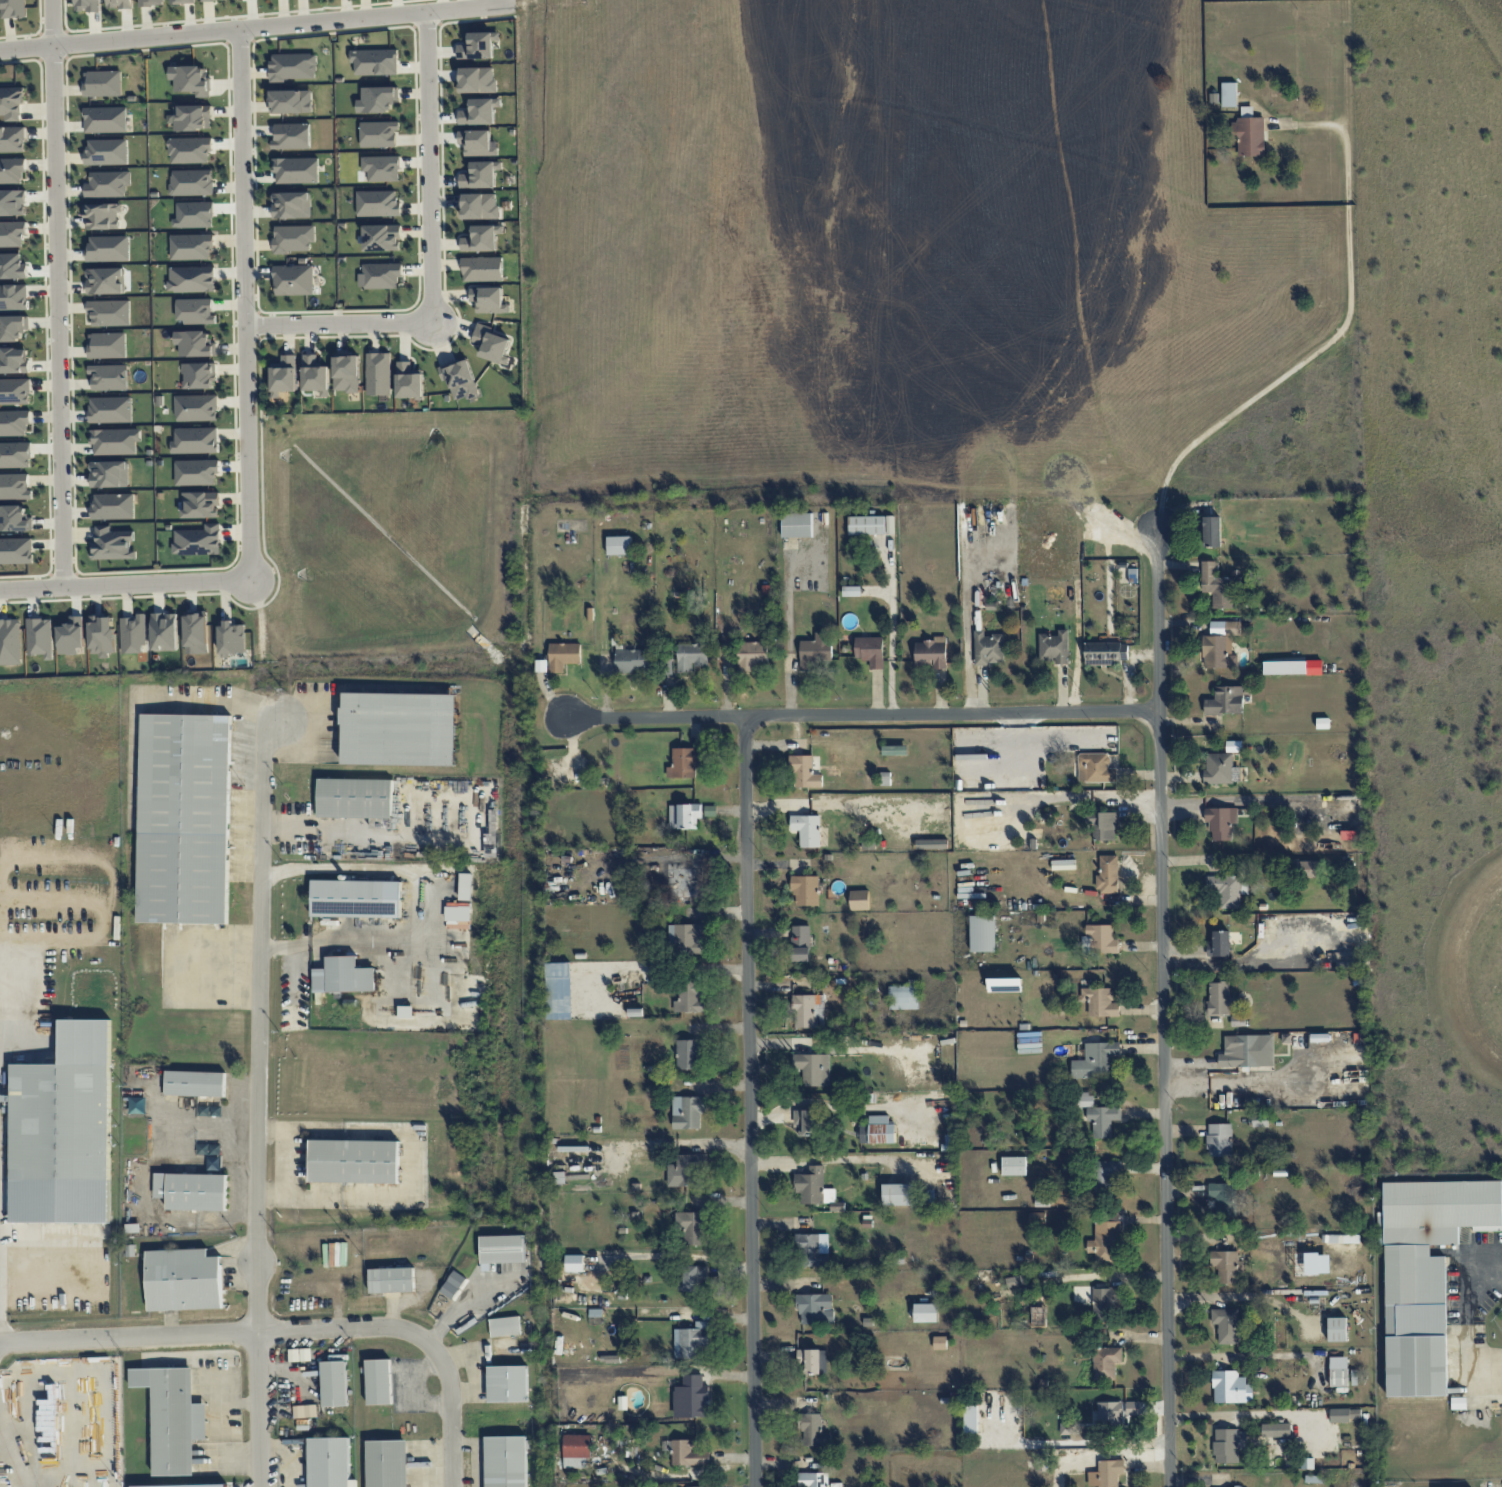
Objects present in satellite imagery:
building: (211, 0)
building: (182, 1)
building: (150, 2)
building: (119, 4)
building: (87, 5)
building: (12, 9)
road: (259, 25)
building: (478, 45)
building: (374, 62)
building: (293, 66)
building: (191, 79)
building: (477, 80)
building: (102, 83)
building: (1229, 94)
building: (377, 99)
building: (291, 101)
building: (11, 102)
building: (479, 112)
building: (192, 117)
building: (105, 119)
road: (1308, 123)
building: (1249, 133)
building: (378, 134)
building: (292, 136)
building: (12, 139)
building: (476, 142)
building: (189, 150)
building: (106, 151)
road: (432, 166)
building: (381, 168)
building: (296, 170)
building: (11, 171)
building: (480, 175)
building: (191, 182)
building: (107, 184)
building: (378, 203)
building: (291, 205)
building: (480, 206)
building: (102, 216)
building: (12, 234)
building: (293, 238)
building: (382, 238)
building: (482, 238)
building: (191, 246)
building: (108, 248)
building: (482, 269)
building: (379, 275)
building: (191, 279)
building: (293, 280)
building: (105, 281)
road: (60, 293)
building: (13, 297)
building: (489, 300)
road: (248, 302)
building: (194, 311)
building: (109, 312)
road: (342, 321)
building: (13, 327)
building: (195, 343)
building: (492, 344)
building: (107, 345)
road: (1331, 345)
building: (14, 360)
building: (347, 373)
building: (379, 374)
building: (199, 375)
building: (284, 375)
building: (316, 375)
building: (109, 377)
building: (461, 379)
building: (410, 381)
building: (15, 391)
building: (196, 408)
building: (110, 409)
building: (14, 423)
building: (195, 440)
building: (114, 441)
building: (15, 455)
building: (196, 472)
building: (109, 474)
building: (14, 486)
building: (200, 504)
building: (113, 506)
building: (15, 519)
building: (797, 525)
building: (866, 525)
building: (1212, 531)
building: (197, 540)
building: (112, 544)
building: (619, 545)
building: (16, 551)
road: (126, 583)
building: (1216, 586)
building: (852, 590)
building: (1233, 626)
building: (165, 631)
building: (196, 632)
building: (133, 634)
building: (102, 635)
building: (39, 637)
building: (231, 638)
building: (10, 642)
road: (269, 647)
building: (1055, 647)
building: (988, 648)
building: (870, 650)
building: (814, 651)
building: (931, 652)
building: (1217, 652)
building: (1106, 653)
building: (752, 655)
building: (563, 656)
building: (691, 657)
building: (632, 661)
building: (1293, 667)
building: (1225, 700)
road: (864, 714)
building: (399, 729)
building: (684, 763)
building: (1095, 768)
building: (1218, 768)
building: (806, 771)
building: (354, 798)
building: (684, 815)
building: (185, 819)
building: (1221, 822)
building: (1103, 825)
building: (807, 829)
building: (931, 844)
building: (1308, 869)
building: (1108, 875)
building: (683, 879)
building: (1227, 889)
building: (805, 890)
building: (356, 898)
building: (860, 900)
road: (426, 910)
building: (325, 921)
building: (982, 933)
building: (686, 938)
building: (1099, 939)
building: (800, 943)
building: (1220, 943)
building: (558, 969)
building: (343, 976)
building: (1004, 984)
road: (1165, 991)
building: (904, 996)
building: (689, 997)
building: (1219, 998)
building: (1100, 1001)
road: (23, 1009)
building: (809, 1011)
road: (261, 1020)
building: (1247, 1051)
building: (687, 1054)
building: (1095, 1060)
building: (813, 1068)
building: (195, 1083)
building: (1085, 1099)
road: (752, 1101)
building: (688, 1111)
building: (1102, 1120)
building: (806, 1121)
building: (1260, 1121)
building: (878, 1130)
building: (63, 1131)
building: (1219, 1139)
building: (354, 1161)
building: (1014, 1165)
building: (686, 1171)
building: (1106, 1175)
building: (815, 1188)
building: (192, 1191)
building: (898, 1194)
building: (1221, 1198)
building: (1037, 1218)
building: (692, 1227)
building: (1342, 1238)
building: (1105, 1239)
building: (502, 1249)
building: (812, 1250)
building: (575, 1263)
building: (1226, 1266)
building: (1425, 1273)
building: (695, 1278)
building: (183, 1280)
building: (391, 1280)
building: (1016, 1281)
building: (1103, 1303)
building: (813, 1307)
road: (1466, 1311)
building: (925, 1312)
building: (1040, 1320)
building: (1226, 1325)
building: (505, 1326)
building: (1337, 1329)
road: (290, 1331)
building: (692, 1339)
building: (939, 1342)
building: (813, 1361)
building: (1106, 1362)
building: (1338, 1371)
building: (379, 1382)
building: (334, 1384)
building: (508, 1384)
building: (1230, 1387)
building: (691, 1397)
building: (1133, 1408)
road: (259, 1410)
building: (1109, 1413)
building: (173, 1417)
building: (970, 1419)
building: (1276, 1429)
building: (813, 1430)
building: (1228, 1445)
building: (576, 1450)
road: (13, 1452)
building: (686, 1452)
building: (505, 1461)
building: (329, 1462)
building: (387, 1463)
building: (1106, 1473)
building: (813, 1479)

